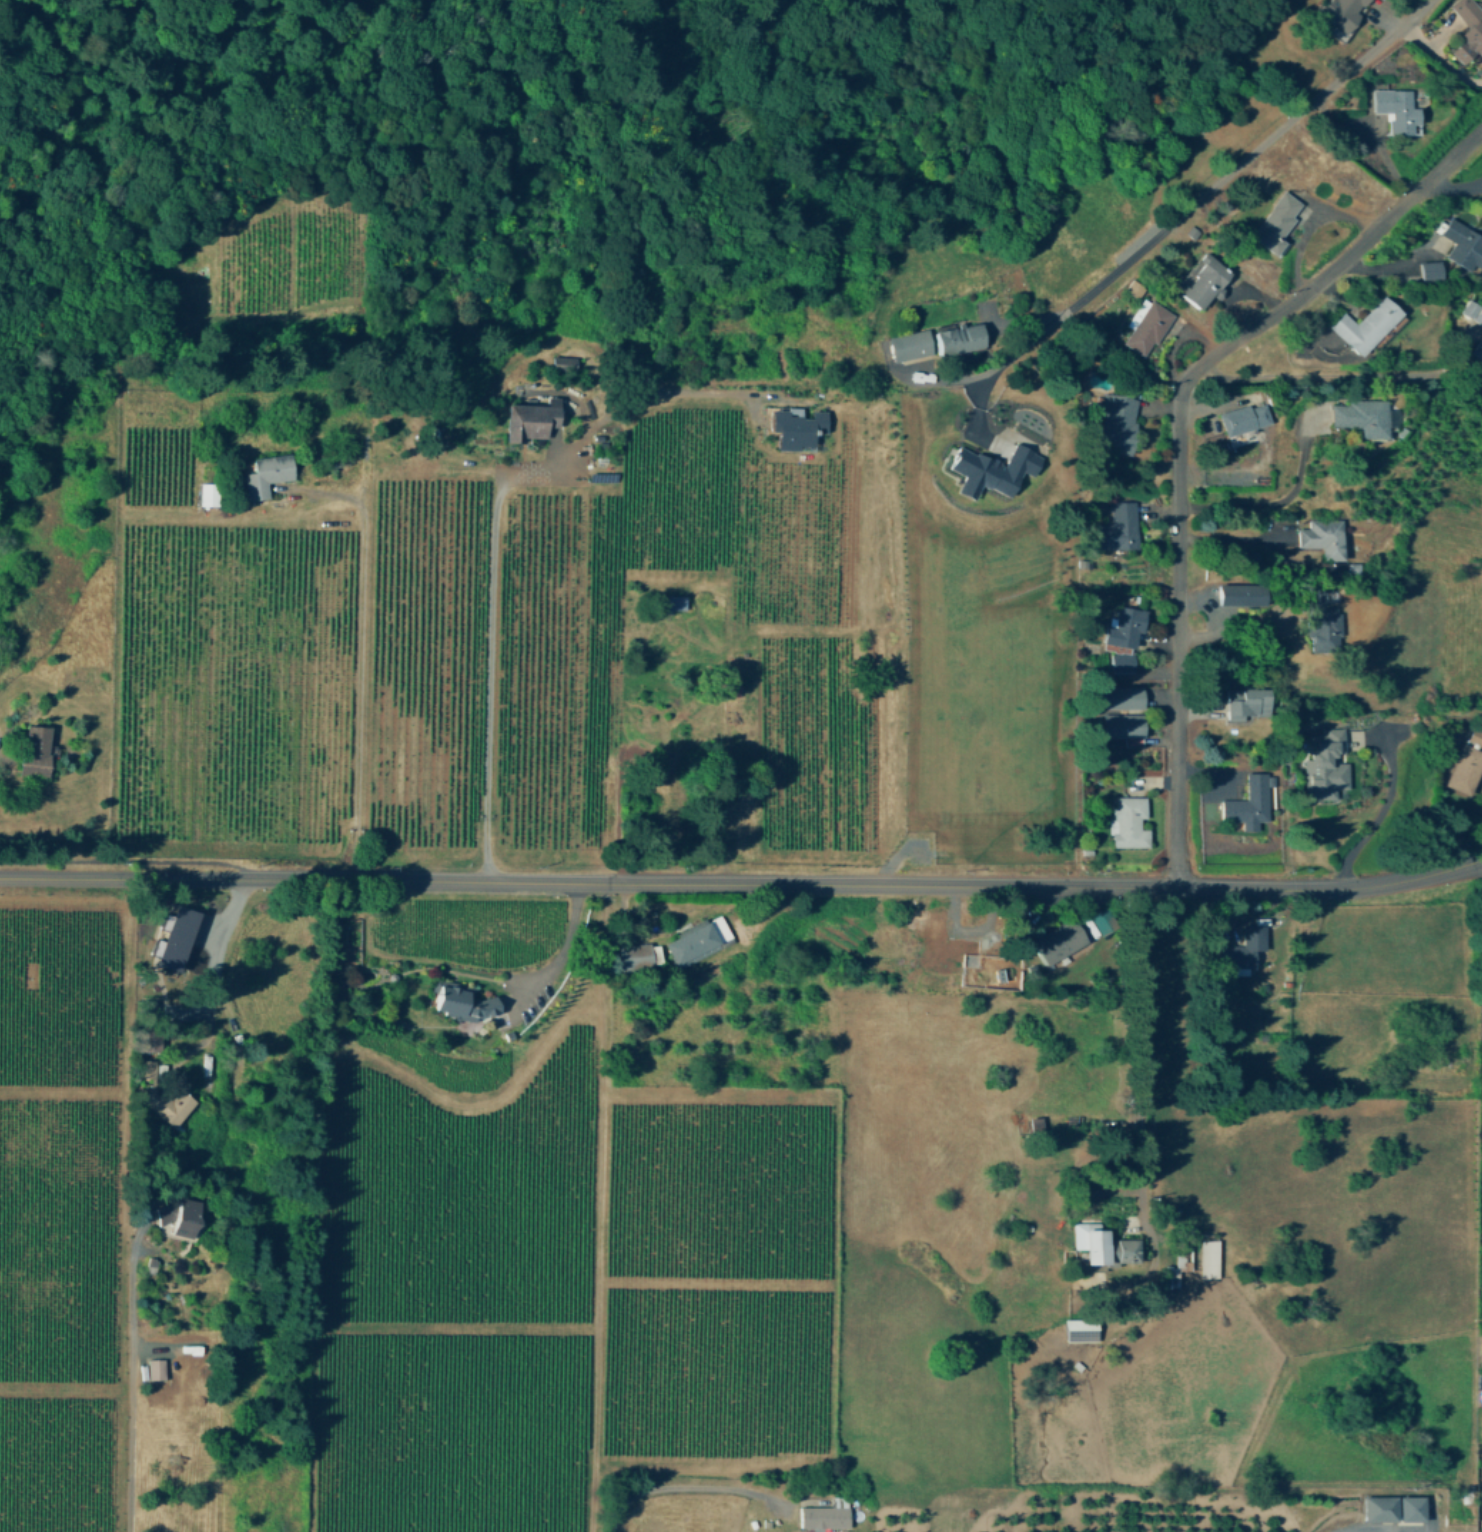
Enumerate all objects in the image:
building: (1341, 13)
building: (1469, 26)
building: (1396, 111)
road: (1222, 178)
building: (1275, 222)
building: (1461, 248)
building: (1431, 269)
building: (1200, 285)
building: (1473, 311)
building: (1363, 327)
building: (1143, 329)
building: (957, 340)
building: (908, 347)
building: (1477, 351)
building: (565, 361)
road: (1326, 375)
road: (968, 376)
building: (1359, 419)
building: (1241, 421)
building: (528, 423)
building: (1113, 425)
building: (797, 426)
road: (1178, 438)
building: (994, 469)
building: (264, 476)
building: (205, 496)
road: (1270, 503)
road: (491, 531)
building: (1115, 531)
road: (1221, 539)
building: (1321, 540)
building: (1237, 596)
building: (672, 605)
road: (1217, 618)
building: (1320, 624)
building: (1122, 629)
road: (360, 655)
building: (1122, 664)
building: (1121, 699)
building: (1244, 705)
building: (1121, 729)
building: (32, 752)
building: (1466, 766)
building: (1319, 771)
building: (1243, 813)
road: (1380, 815)
building: (1127, 823)
road: (1480, 861)
road: (306, 879)
road: (895, 885)
road: (1329, 889)
building: (1296, 928)
building: (170, 937)
building: (696, 941)
building: (1054, 941)
road: (560, 948)
building: (1238, 951)
building: (632, 957)
road: (208, 981)
building: (459, 1002)
building: (152, 1042)
road: (1140, 1049)
building: (166, 1106)
building: (1033, 1128)
building: (183, 1215)
building: (1103, 1248)
building: (1181, 1259)
building: (1207, 1260)
building: (152, 1264)
building: (1077, 1331)
building: (157, 1368)
road: (125, 1391)
road: (700, 1490)
building: (1413, 1508)
building: (1377, 1509)
building: (823, 1516)

